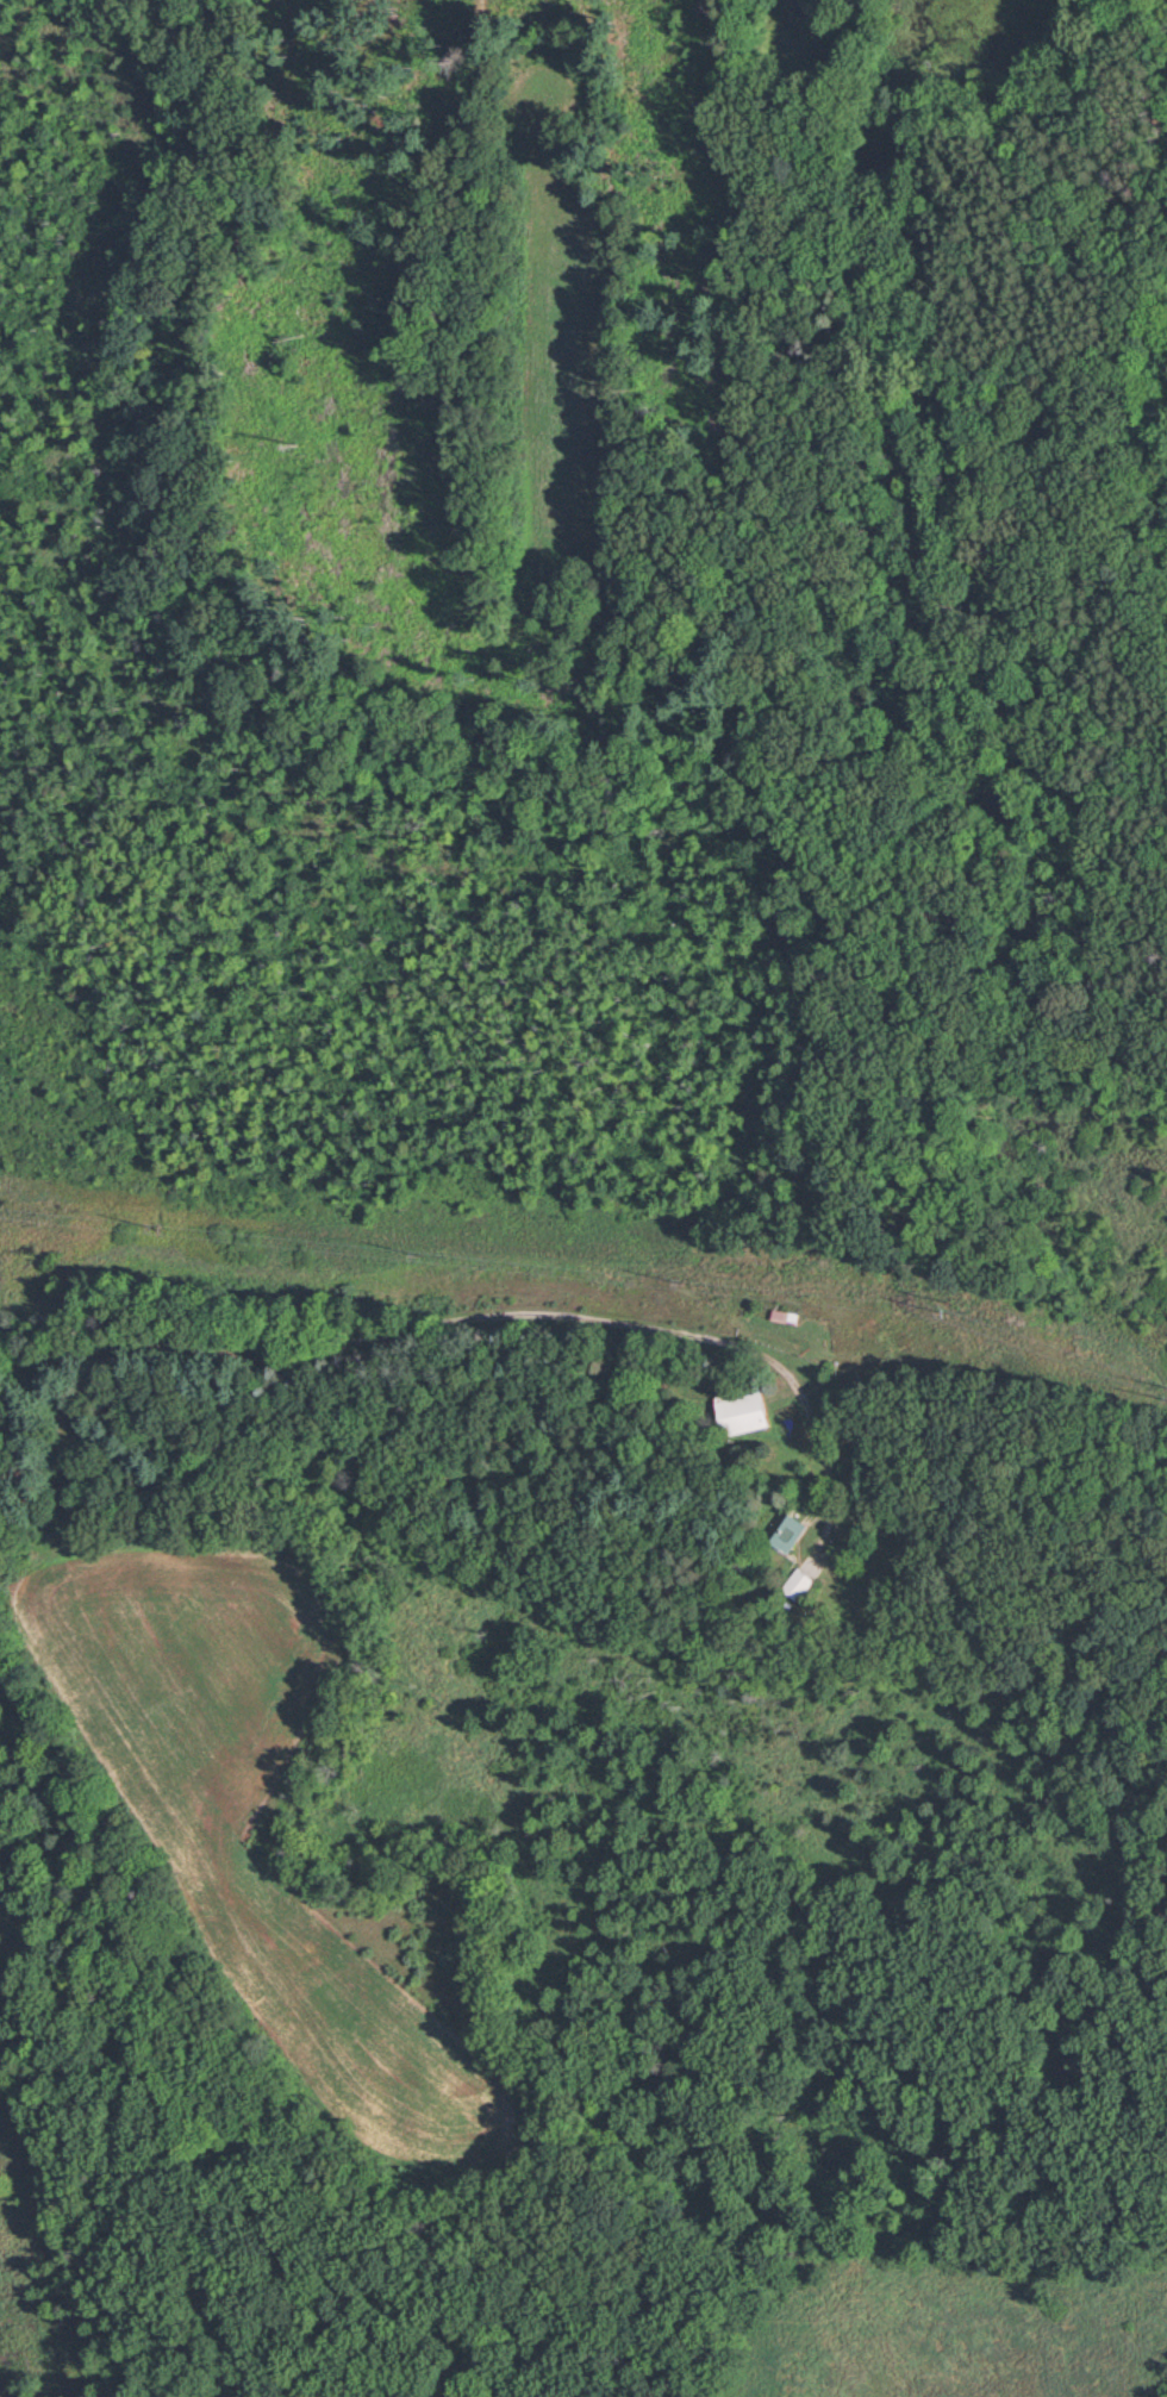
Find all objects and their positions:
building: (781, 1319)
road: (402, 1334)
building: (739, 1415)
building: (785, 1530)
building: (797, 1586)

